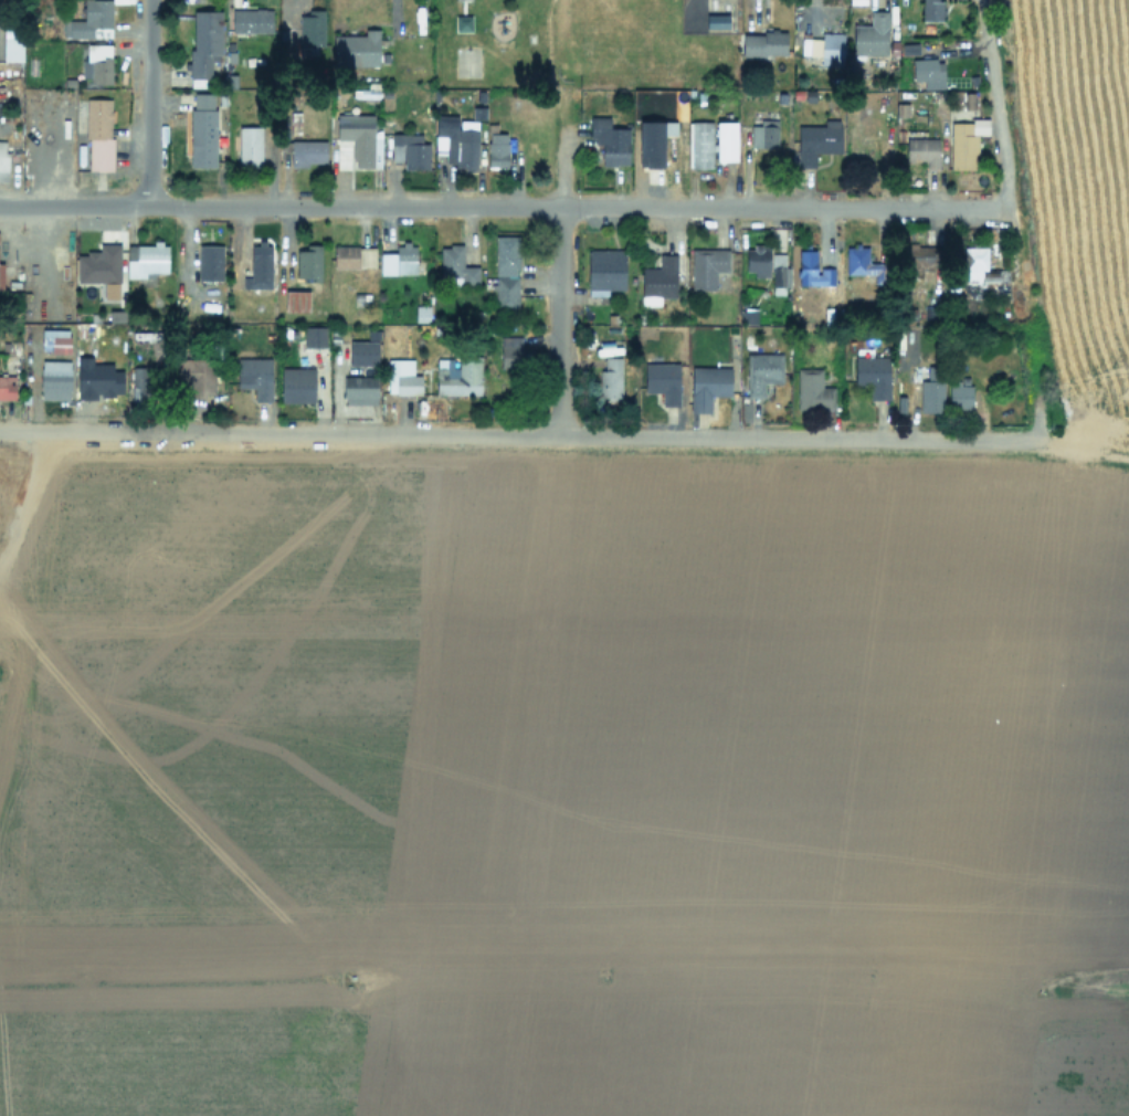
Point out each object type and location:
building: (461, 0)
building: (931, 10)
building: (89, 20)
building: (251, 20)
building: (716, 21)
building: (312, 28)
building: (871, 34)
building: (204, 43)
park: (568, 43)
building: (763, 43)
building: (12, 46)
building: (827, 48)
building: (356, 49)
building: (97, 63)
building: (927, 67)
building: (932, 83)
road: (148, 103)
road: (993, 103)
building: (202, 129)
building: (98, 134)
building: (763, 134)
building: (359, 137)
building: (610, 140)
building: (725, 140)
building: (817, 140)
building: (457, 141)
building: (964, 141)
building: (651, 144)
building: (699, 144)
building: (249, 146)
road: (559, 147)
building: (496, 149)
building: (409, 150)
building: (922, 151)
building: (306, 152)
building: (2, 159)
road: (504, 206)
building: (354, 256)
building: (922, 256)
building: (145, 260)
building: (399, 260)
building: (757, 260)
building: (210, 262)
building: (308, 262)
building: (863, 263)
building: (260, 265)
building: (977, 265)
building: (455, 266)
building: (707, 266)
building: (101, 269)
building: (605, 269)
building: (779, 270)
building: (812, 270)
building: (506, 272)
building: (0, 276)
building: (660, 278)
building: (296, 301)
building: (421, 313)
building: (749, 315)
road: (557, 322)
building: (314, 336)
building: (54, 341)
building: (510, 351)
building: (362, 352)
building: (114, 365)
building: (762, 371)
building: (54, 375)
building: (873, 375)
building: (196, 376)
building: (457, 376)
building: (254, 377)
building: (402, 377)
building: (610, 378)
building: (663, 381)
building: (141, 382)
building: (296, 385)
building: (707, 386)
building: (7, 387)
building: (359, 389)
building: (812, 390)
building: (930, 392)
building: (959, 393)
road: (511, 436)
road: (27, 498)
crop: (578, 779)

